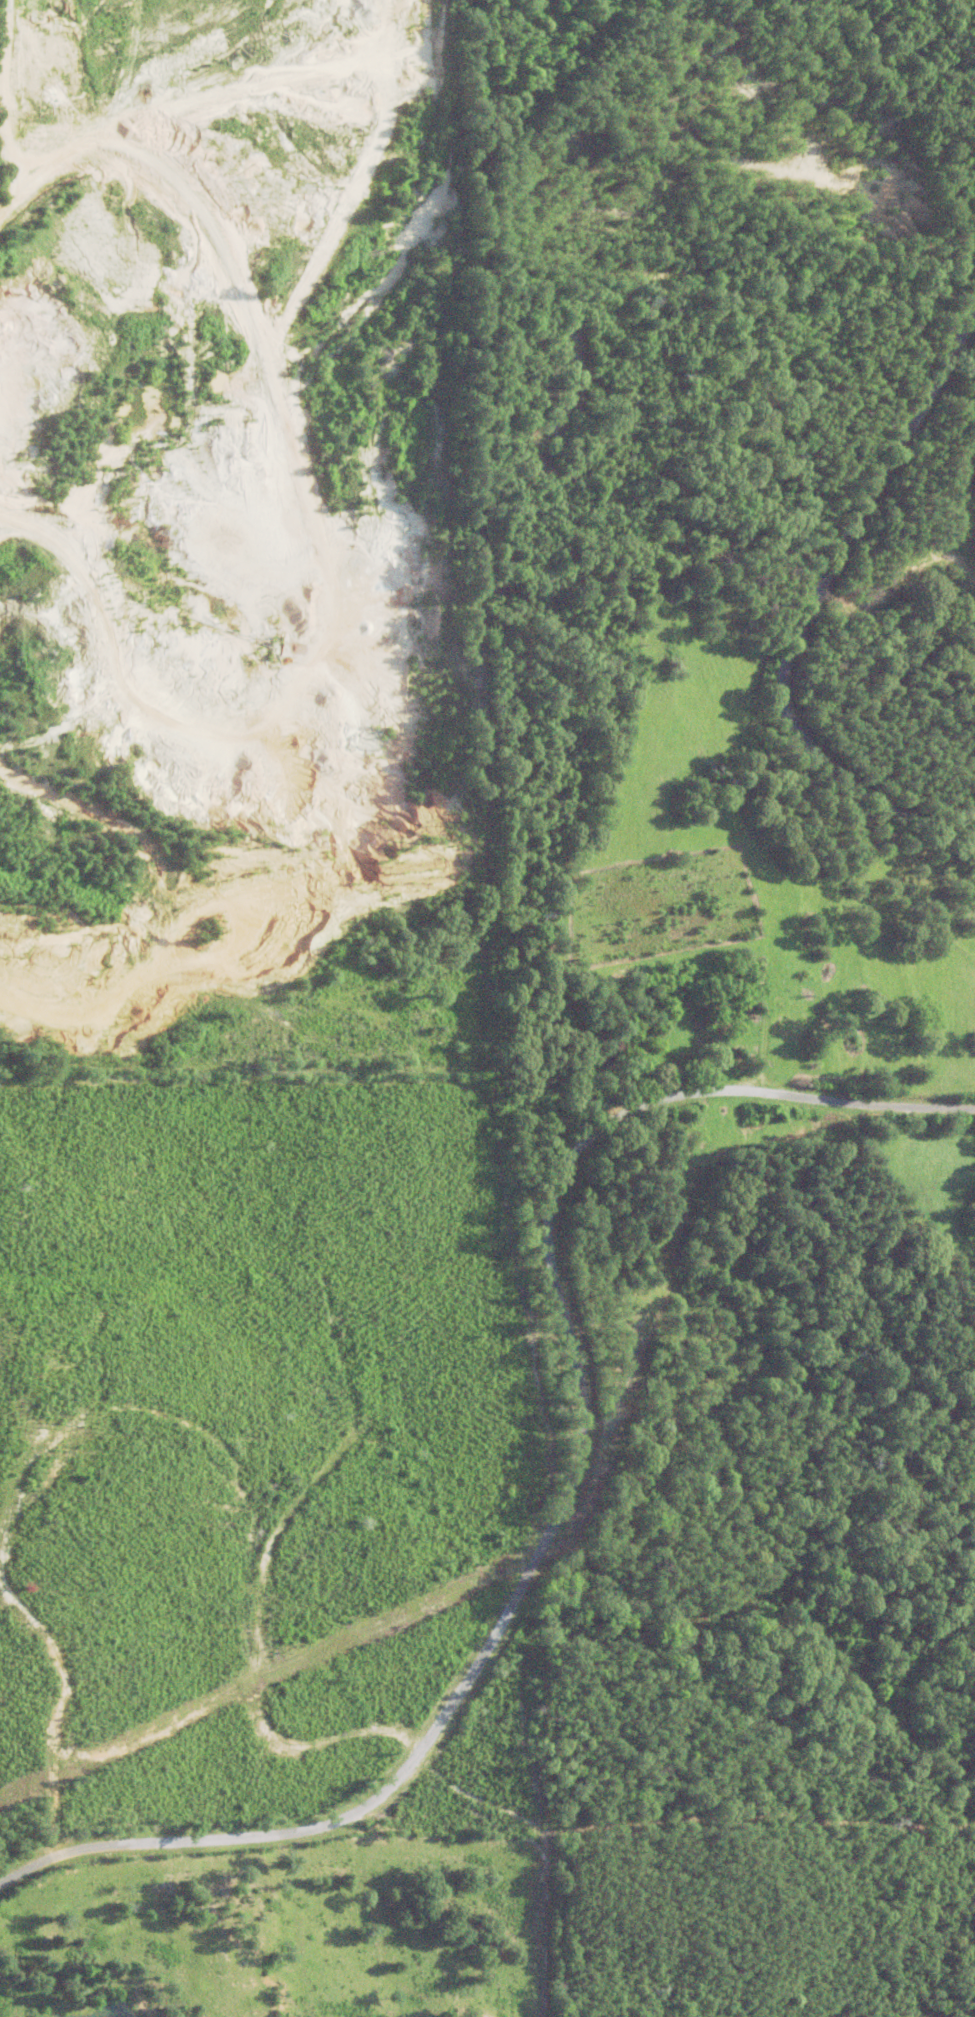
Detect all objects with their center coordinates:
road: (819, 581)
building: (784, 1027)
road: (562, 1476)

